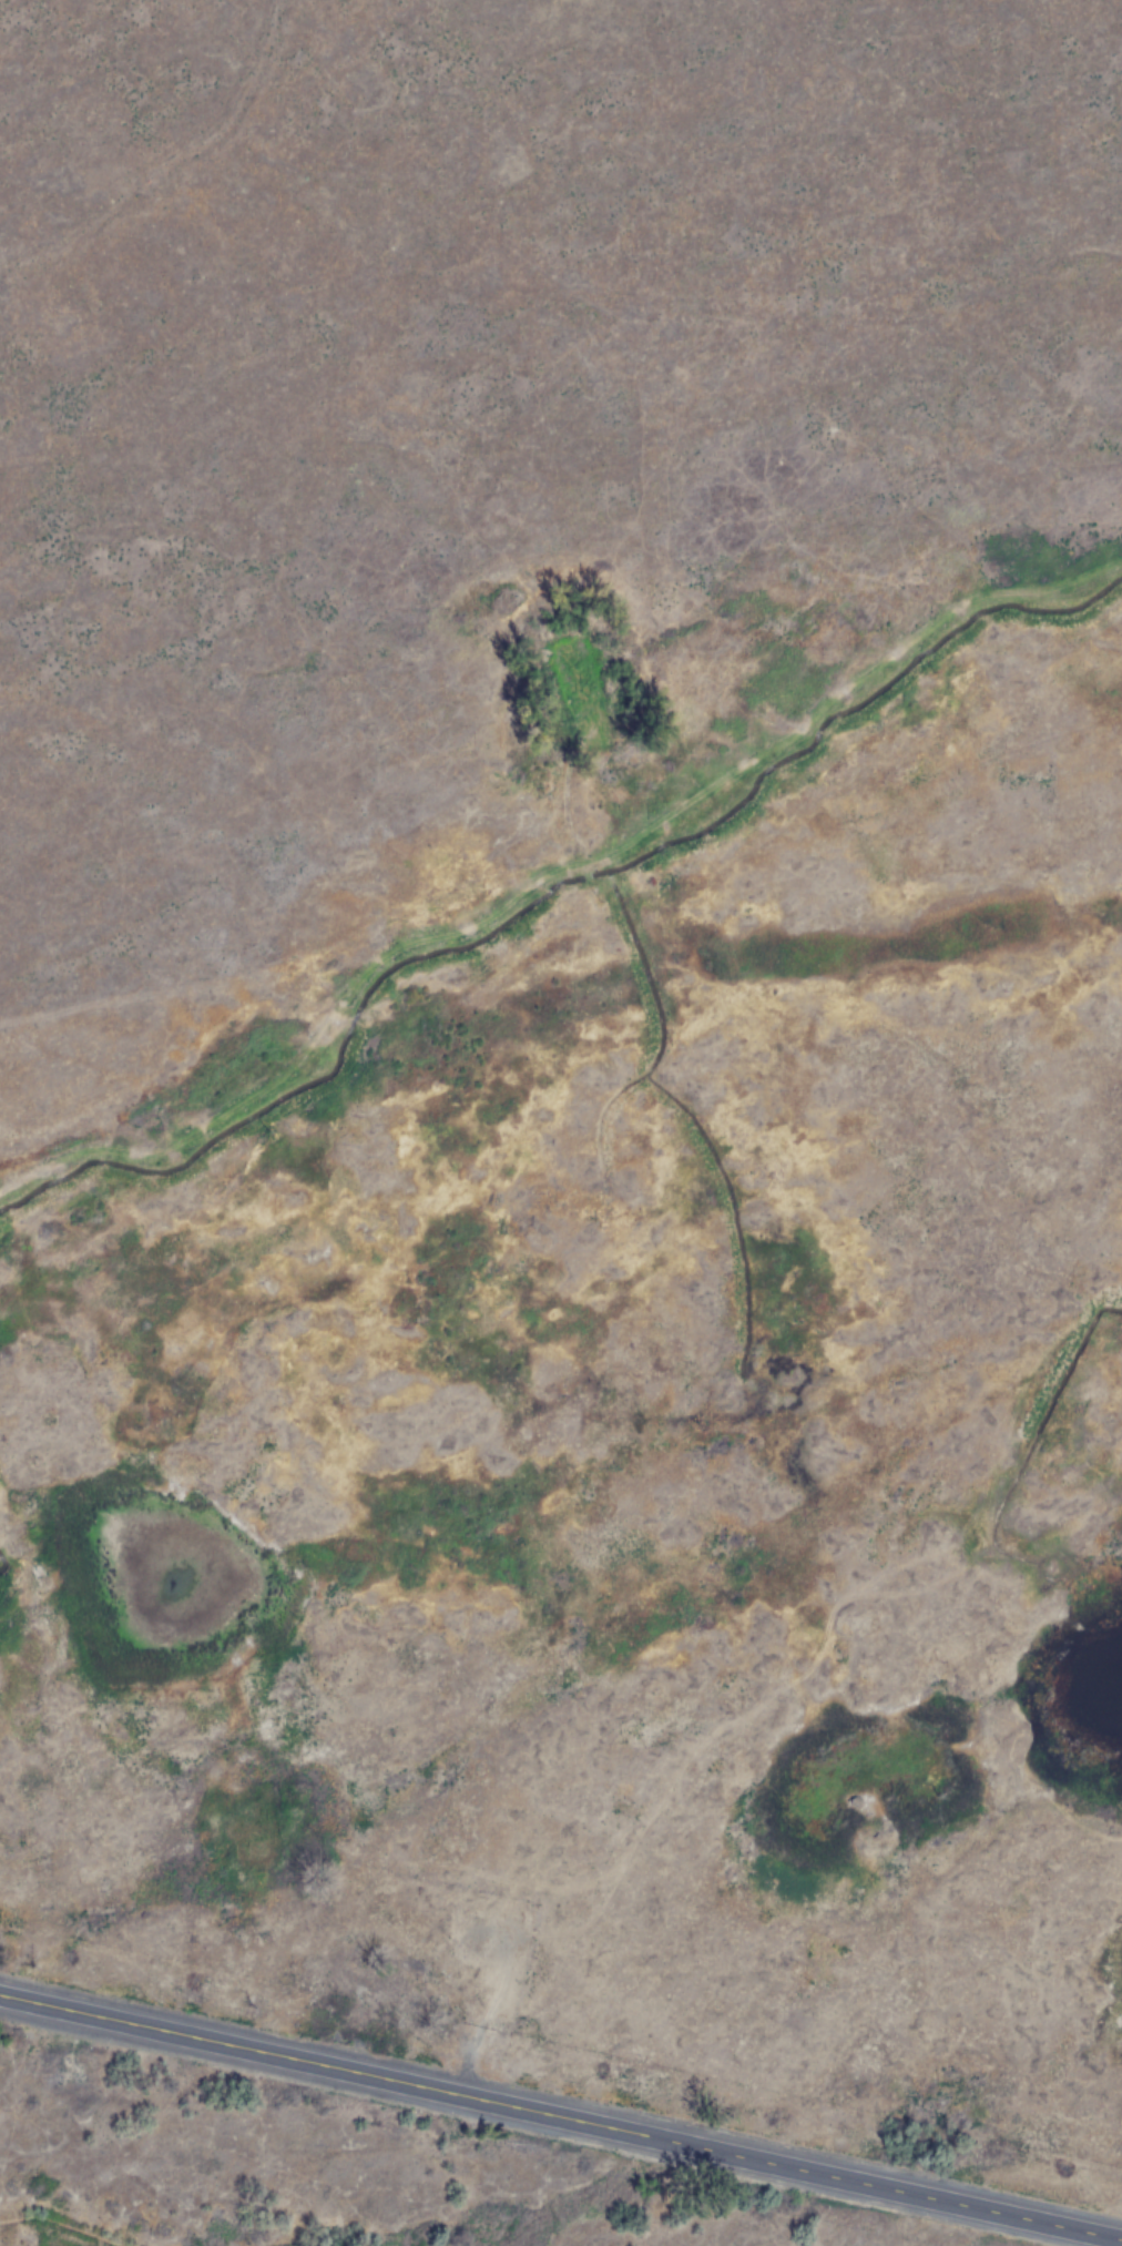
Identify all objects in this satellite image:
road: (560, 2118)

